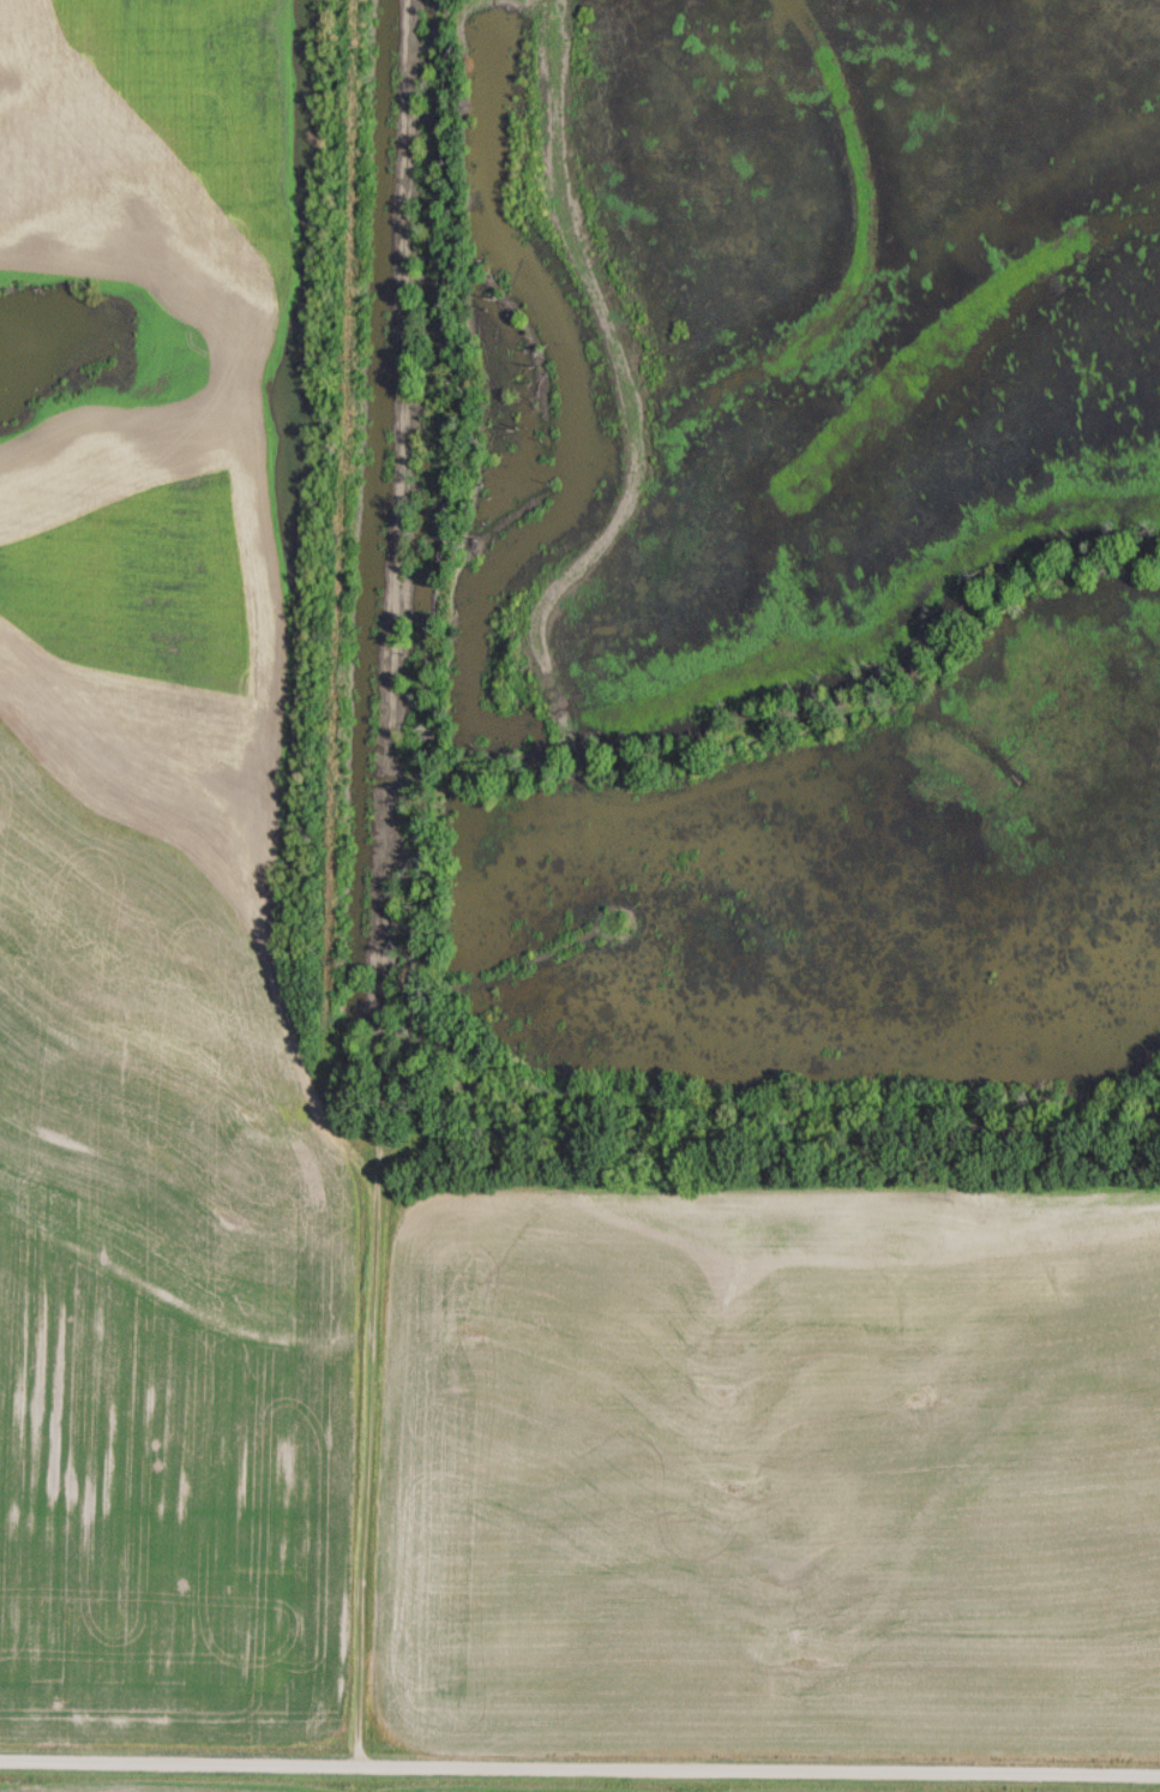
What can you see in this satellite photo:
road: (553, 690)
road: (383, 881)
road: (579, 1764)

